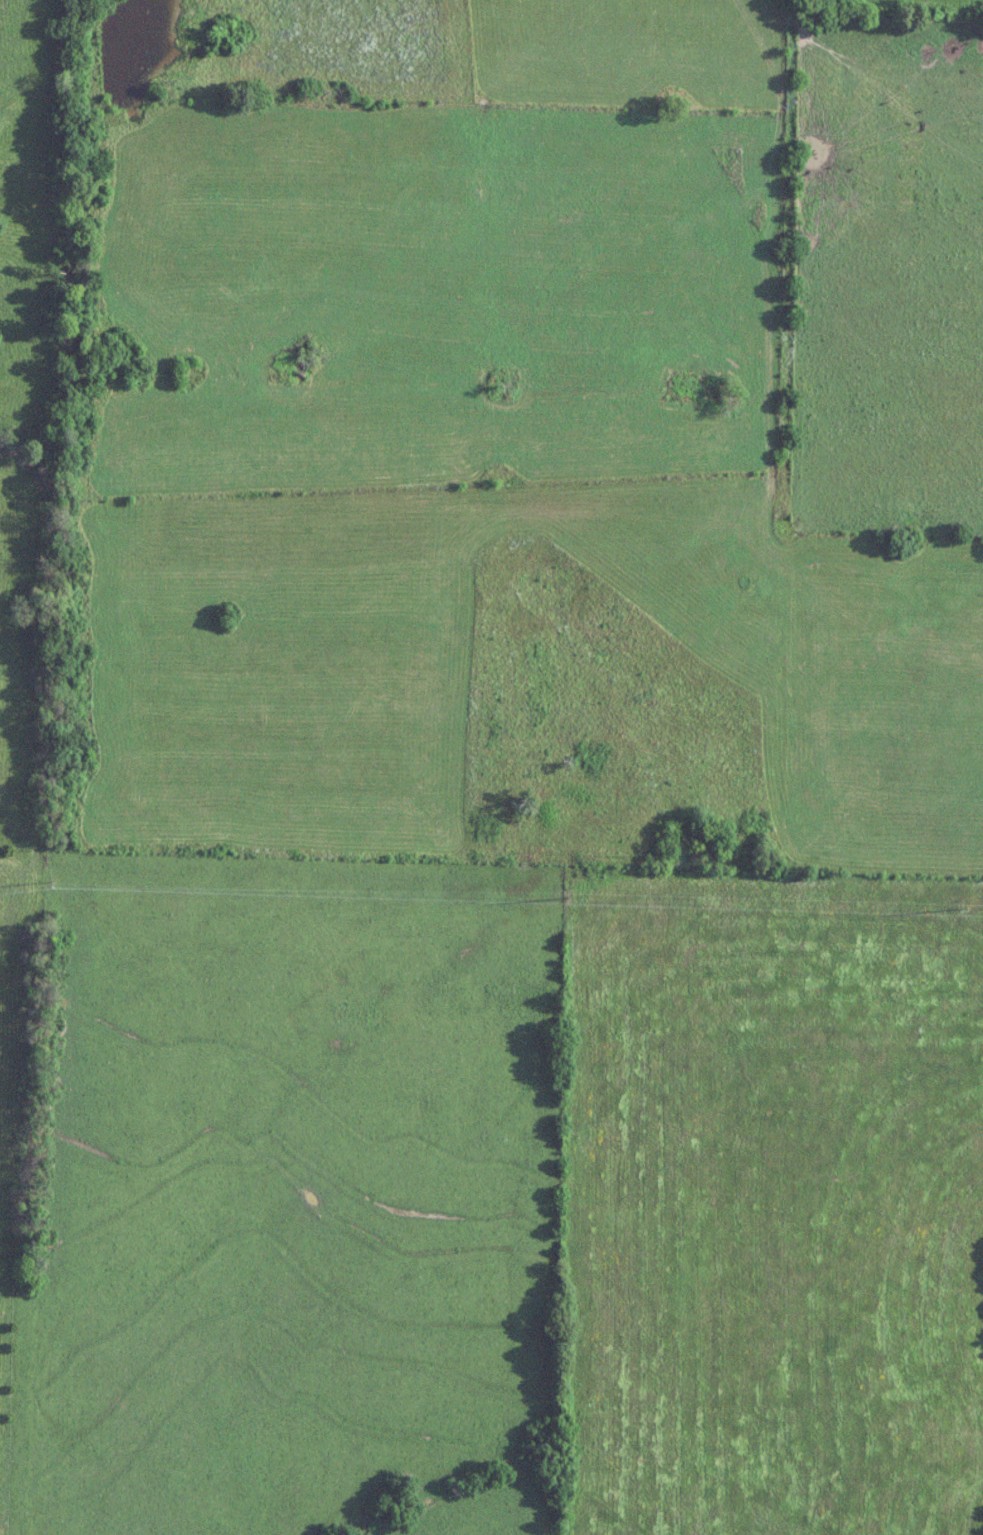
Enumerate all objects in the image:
crop: (771, 1205)

